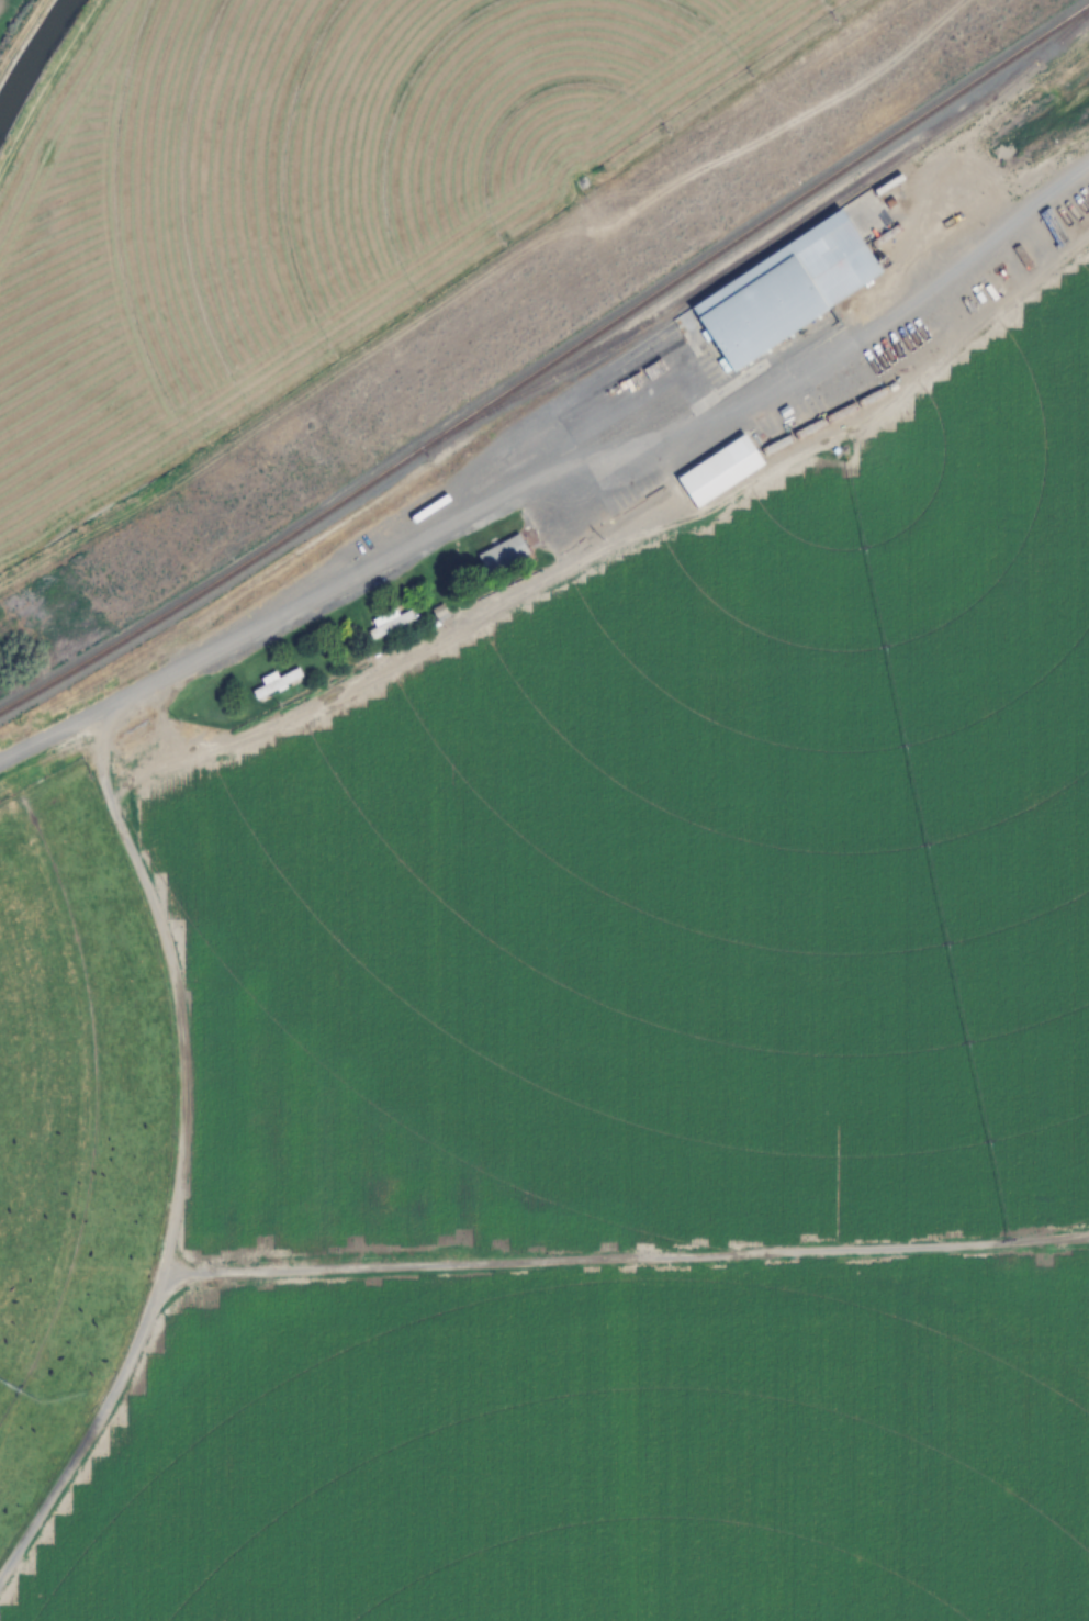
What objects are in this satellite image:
crop: (5, 10)
railway: (764, 247)
road: (478, 279)
building: (785, 288)
railway: (549, 362)
building: (720, 471)
building: (483, 481)
building: (502, 555)
road: (337, 593)
building: (439, 613)
building: (389, 623)
building: (276, 685)

